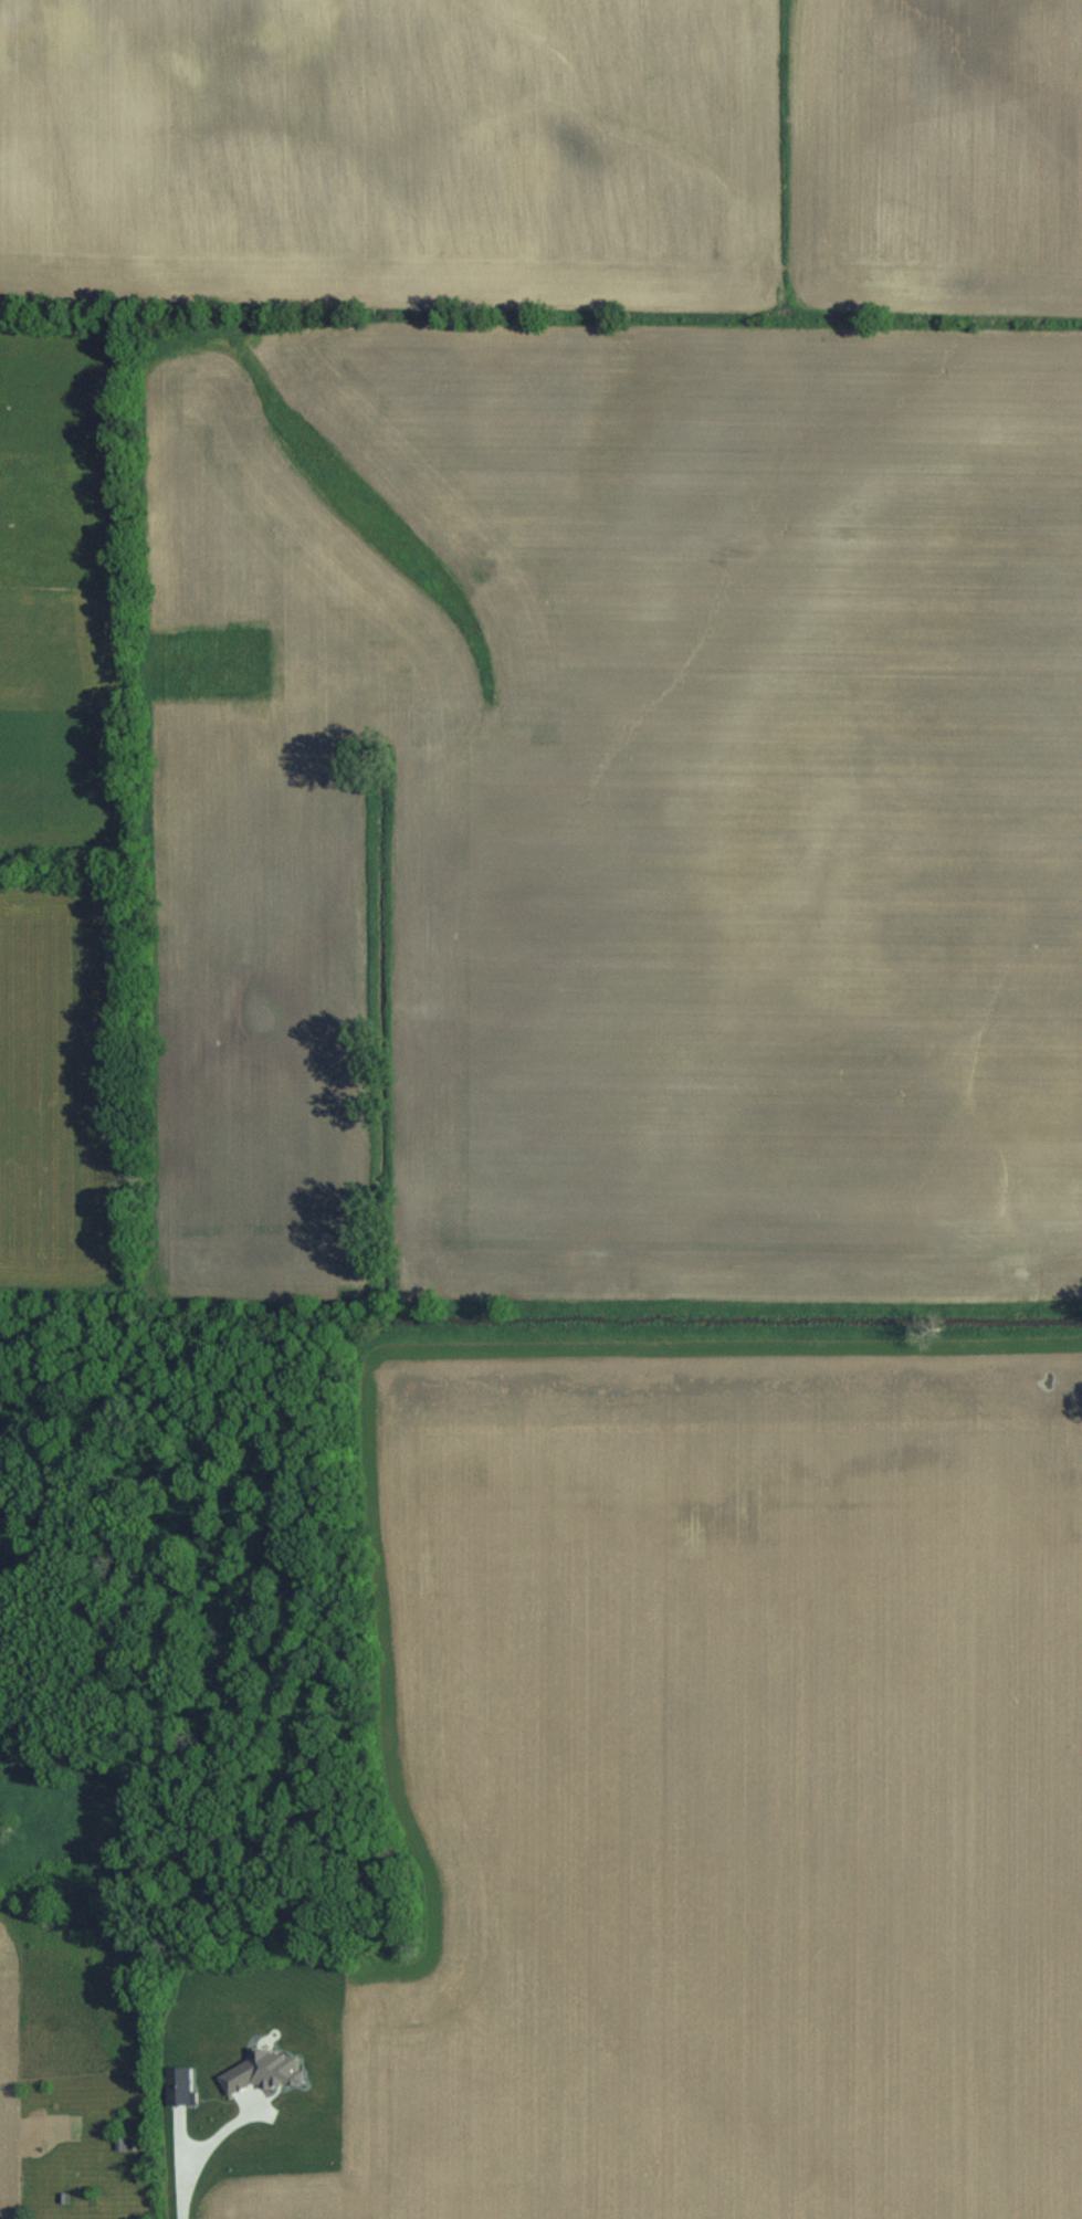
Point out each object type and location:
building: (123, 2141)

